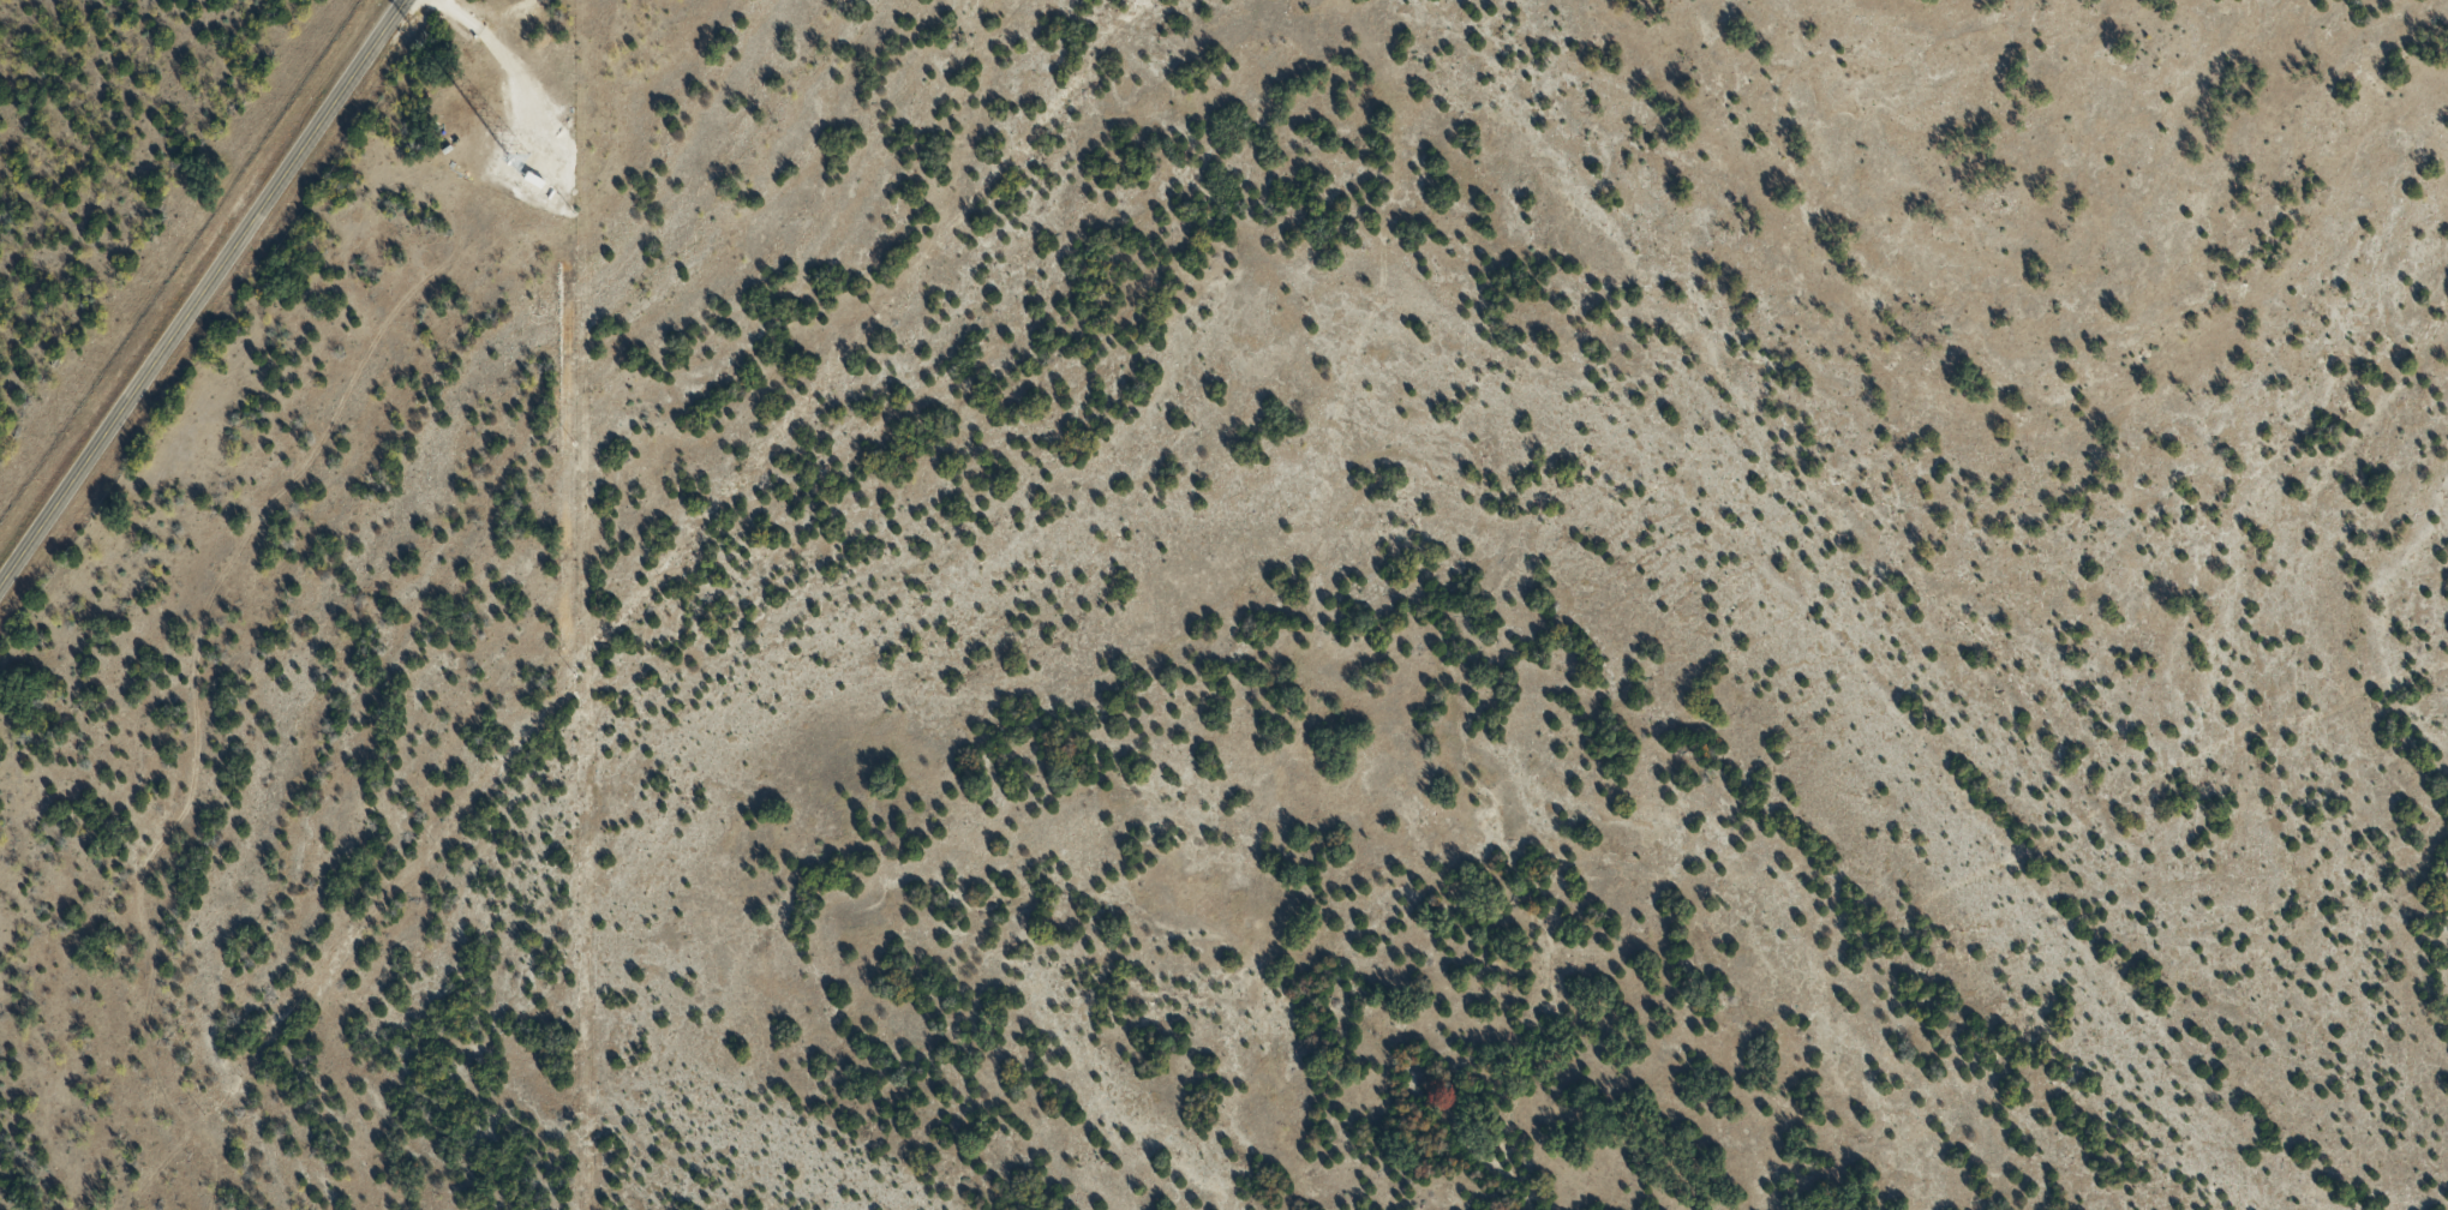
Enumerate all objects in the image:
road: (203, 294)

